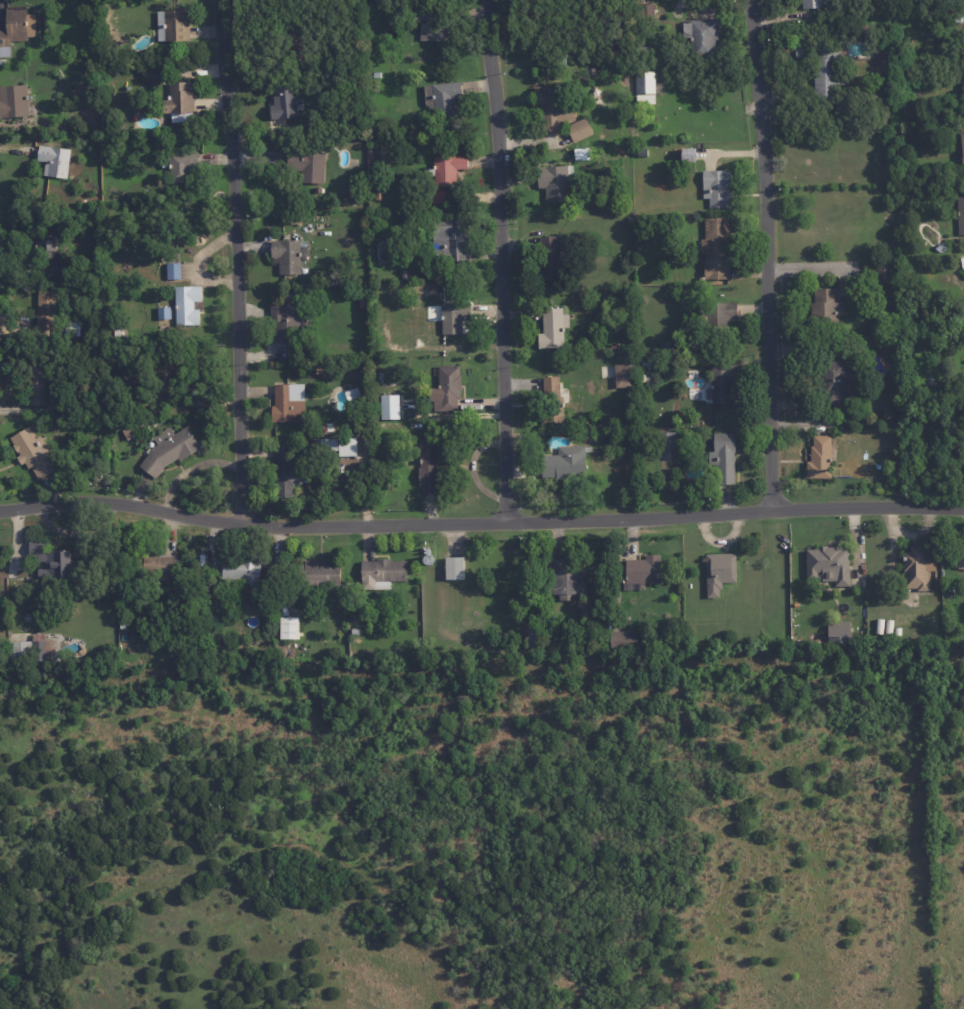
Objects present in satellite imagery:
building: (378, 1)
building: (959, 2)
building: (812, 3)
building: (646, 10)
building: (428, 20)
building: (171, 25)
building: (17, 29)
building: (700, 36)
building: (294, 42)
building: (803, 50)
building: (555, 61)
building: (4, 62)
building: (963, 66)
building: (153, 72)
building: (591, 72)
building: (826, 74)
building: (376, 75)
building: (644, 88)
building: (594, 95)
building: (441, 98)
building: (177, 99)
building: (16, 101)
building: (283, 102)
building: (551, 109)
building: (136, 112)
building: (353, 129)
building: (578, 130)
building: (962, 140)
building: (580, 154)
building: (687, 154)
building: (383, 157)
building: (57, 161)
building: (307, 166)
building: (180, 167)
building: (445, 169)
building: (555, 181)
building: (716, 188)
building: (317, 190)
building: (346, 193)
building: (435, 195)
building: (378, 196)
building: (960, 215)
building: (449, 240)
building: (940, 248)
building: (714, 249)
building: (52, 250)
road: (769, 250)
building: (287, 255)
road: (501, 257)
building: (548, 258)
road: (234, 259)
building: (962, 262)
building: (172, 271)
building: (426, 272)
building: (883, 274)
building: (405, 275)
building: (313, 281)
building: (899, 281)
building: (360, 294)
building: (642, 300)
building: (832, 300)
building: (186, 305)
building: (49, 312)
building: (162, 313)
building: (715, 314)
building: (453, 318)
building: (288, 327)
building: (552, 328)
building: (117, 332)
building: (933, 337)
building: (614, 348)
building: (320, 369)
building: (649, 369)
building: (622, 375)
building: (171, 376)
building: (378, 378)
building: (836, 381)
building: (40, 383)
building: (721, 385)
building: (446, 389)
building: (296, 392)
building: (351, 395)
building: (681, 396)
building: (895, 401)
building: (551, 404)
building: (286, 405)
building: (387, 406)
building: (326, 427)
building: (309, 431)
building: (130, 432)
building: (625, 433)
building: (666, 440)
building: (336, 446)
building: (172, 449)
building: (36, 452)
building: (723, 458)
building: (819, 458)
building: (97, 460)
building: (564, 463)
building: (427, 466)
building: (284, 472)
road: (480, 515)
building: (960, 557)
building: (55, 559)
building: (828, 564)
building: (159, 566)
building: (454, 568)
building: (917, 568)
building: (241, 571)
building: (642, 571)
building: (382, 573)
building: (718, 573)
building: (314, 577)
building: (565, 580)
building: (203, 583)
building: (586, 614)
building: (354, 620)
building: (645, 620)
building: (126, 626)
building: (878, 627)
building: (289, 628)
building: (888, 628)
building: (838, 629)
building: (897, 631)
building: (353, 632)
building: (532, 639)
building: (719, 640)
building: (622, 641)
building: (682, 642)
building: (647, 646)
building: (283, 648)
building: (32, 650)

